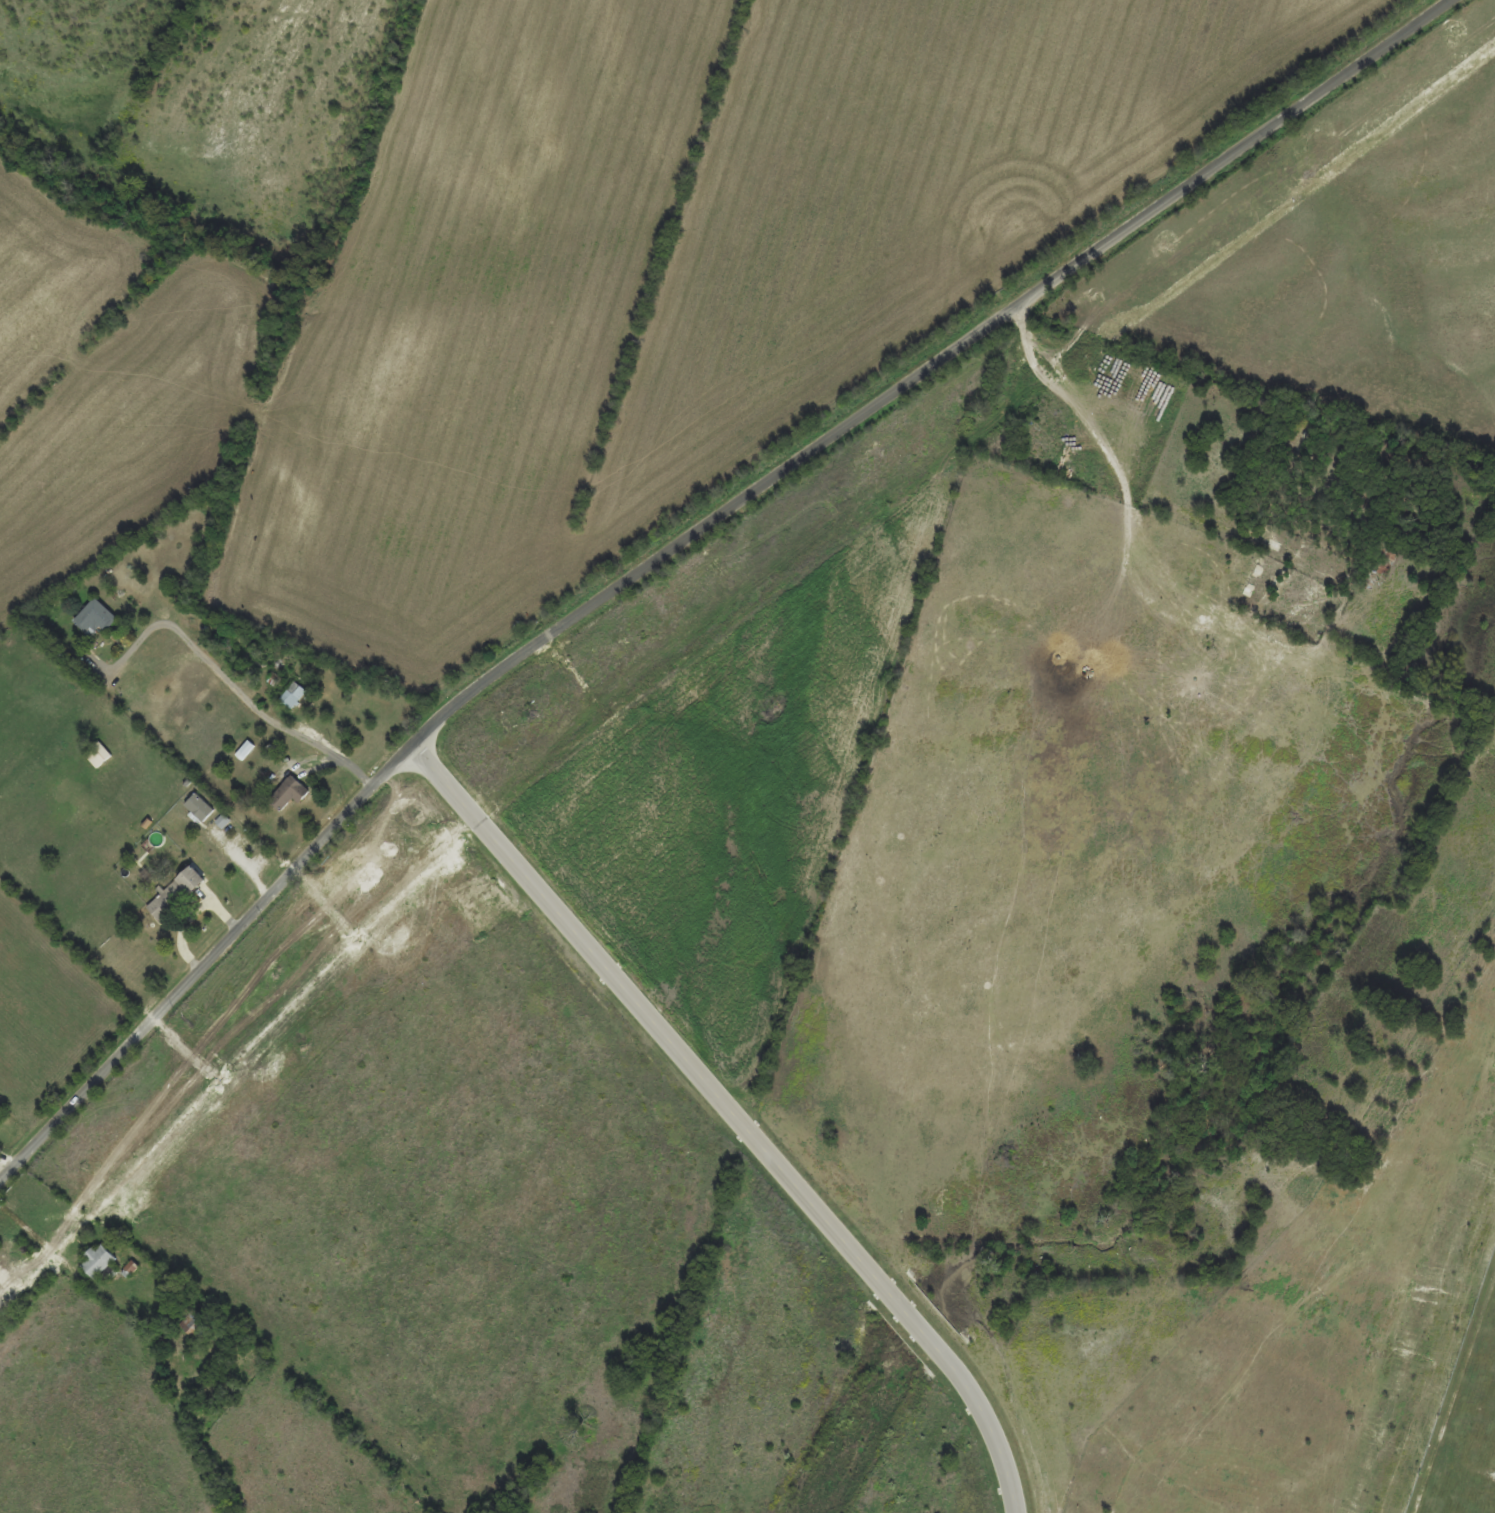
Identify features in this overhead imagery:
building: (1011, 401)
road: (706, 581)
building: (98, 618)
building: (295, 696)
road: (249, 699)
building: (99, 755)
building: (292, 794)
road: (255, 877)
building: (179, 894)
road: (755, 1138)
building: (861, 1146)
road: (23, 1178)
building: (102, 1262)
building: (194, 1326)

